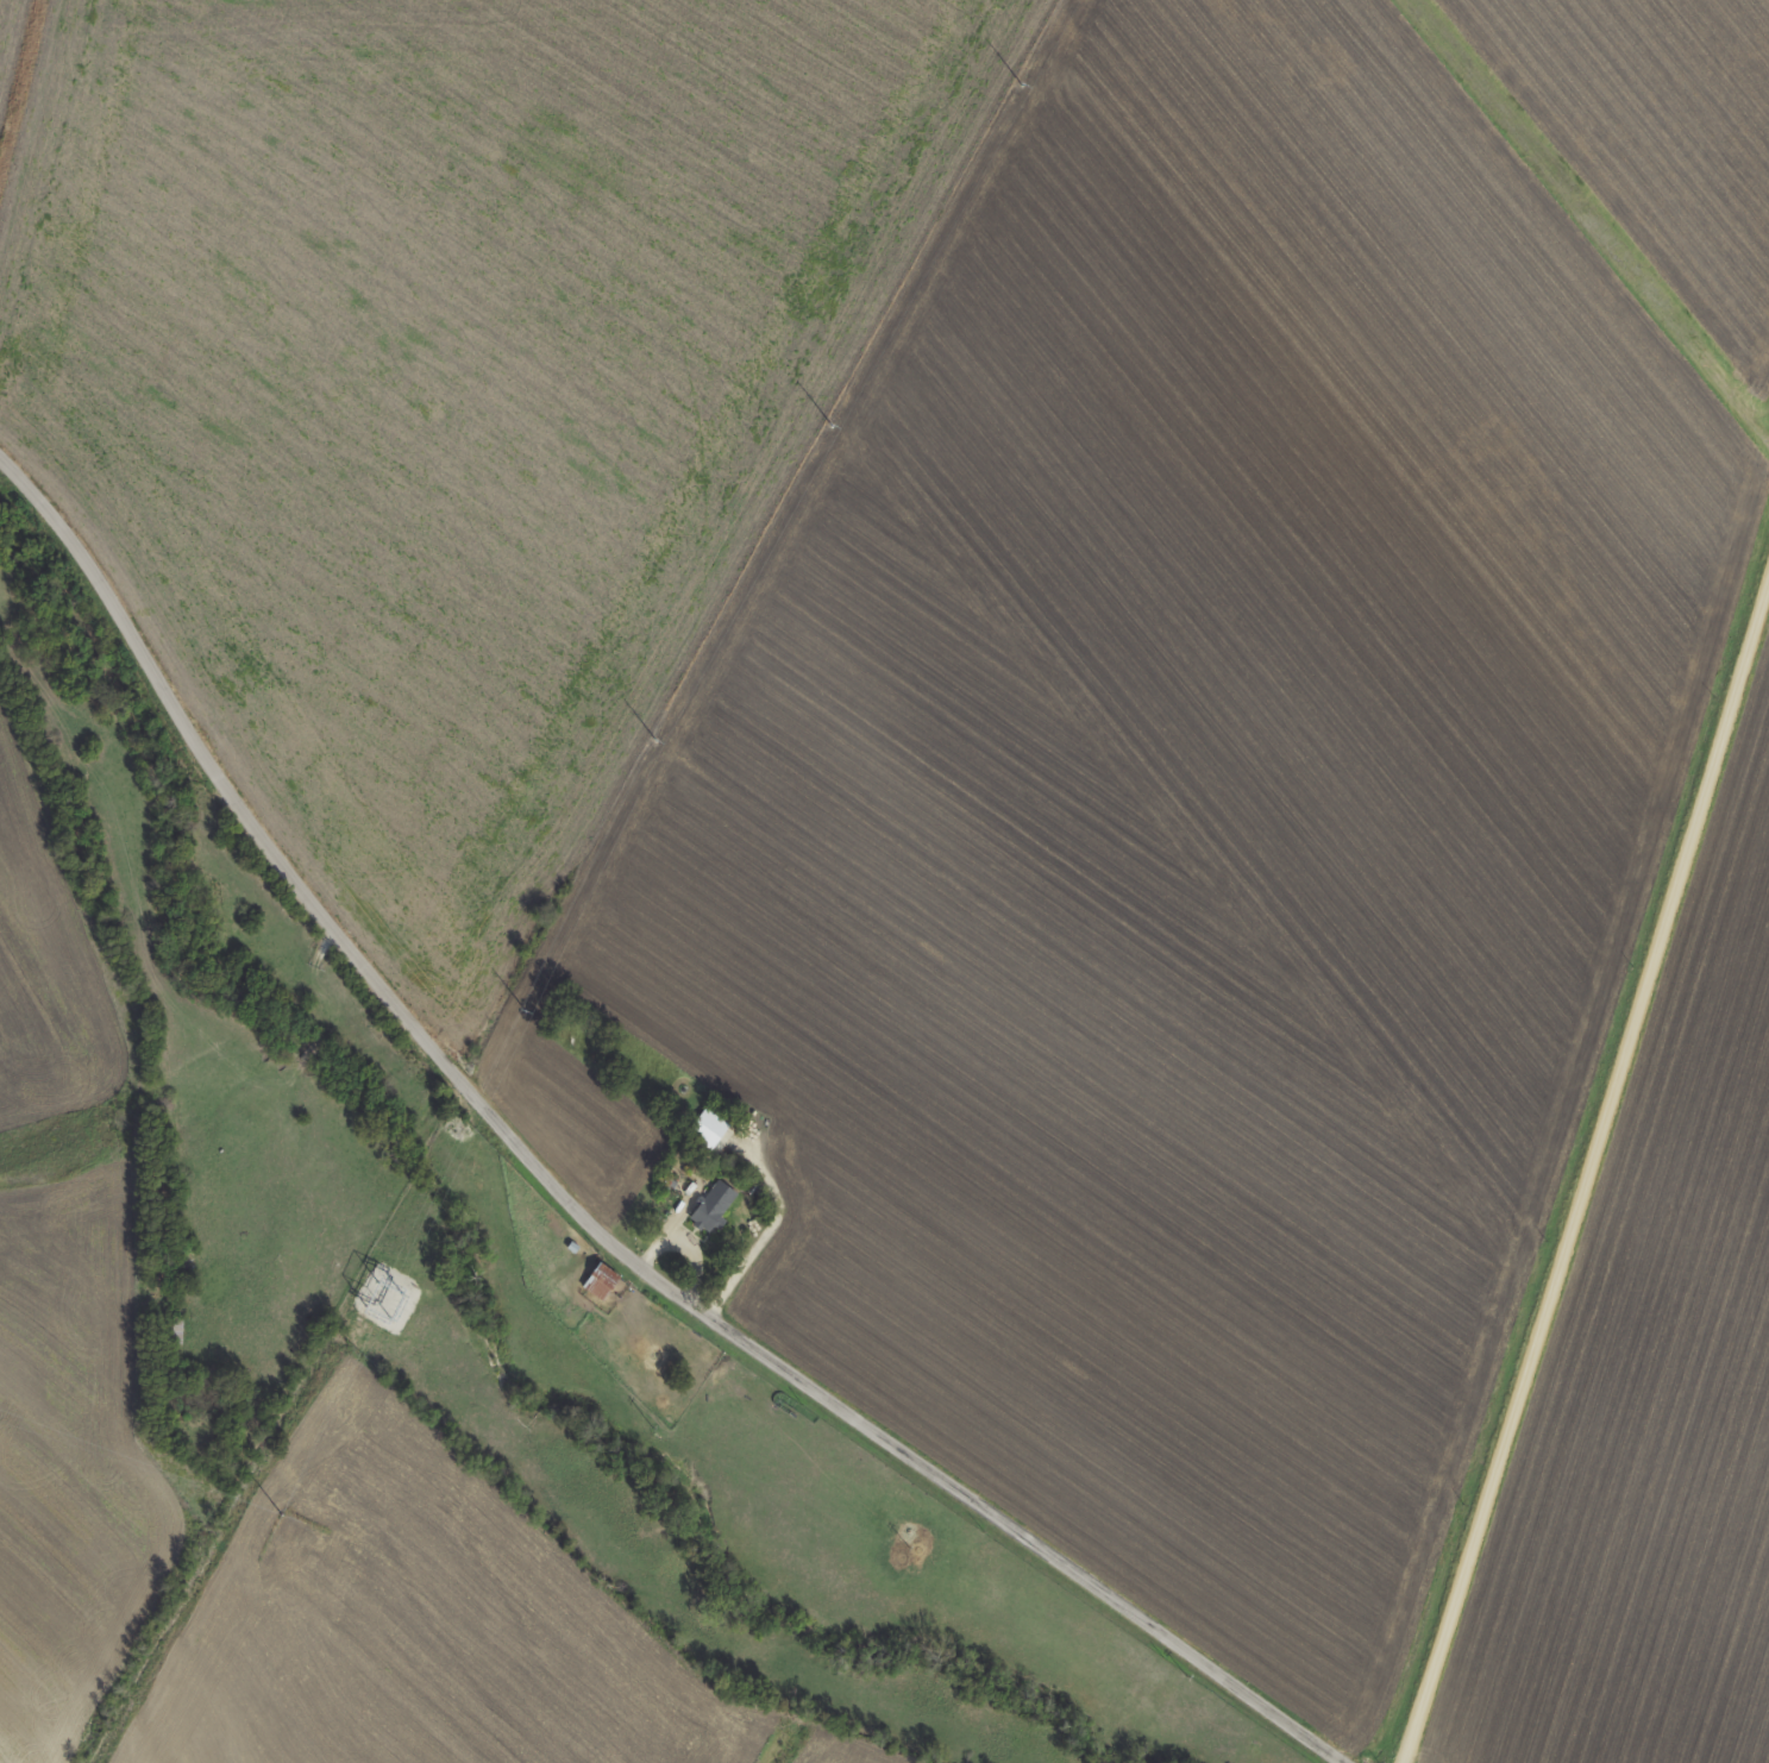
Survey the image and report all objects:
power tower: (1018, 87)
power tower: (828, 427)
power tower: (653, 742)
power tower: (522, 1011)
building: (708, 1128)
road: (1586, 1172)
building: (713, 1205)
road: (573, 1209)
building: (598, 1284)
power tower: (276, 1517)

